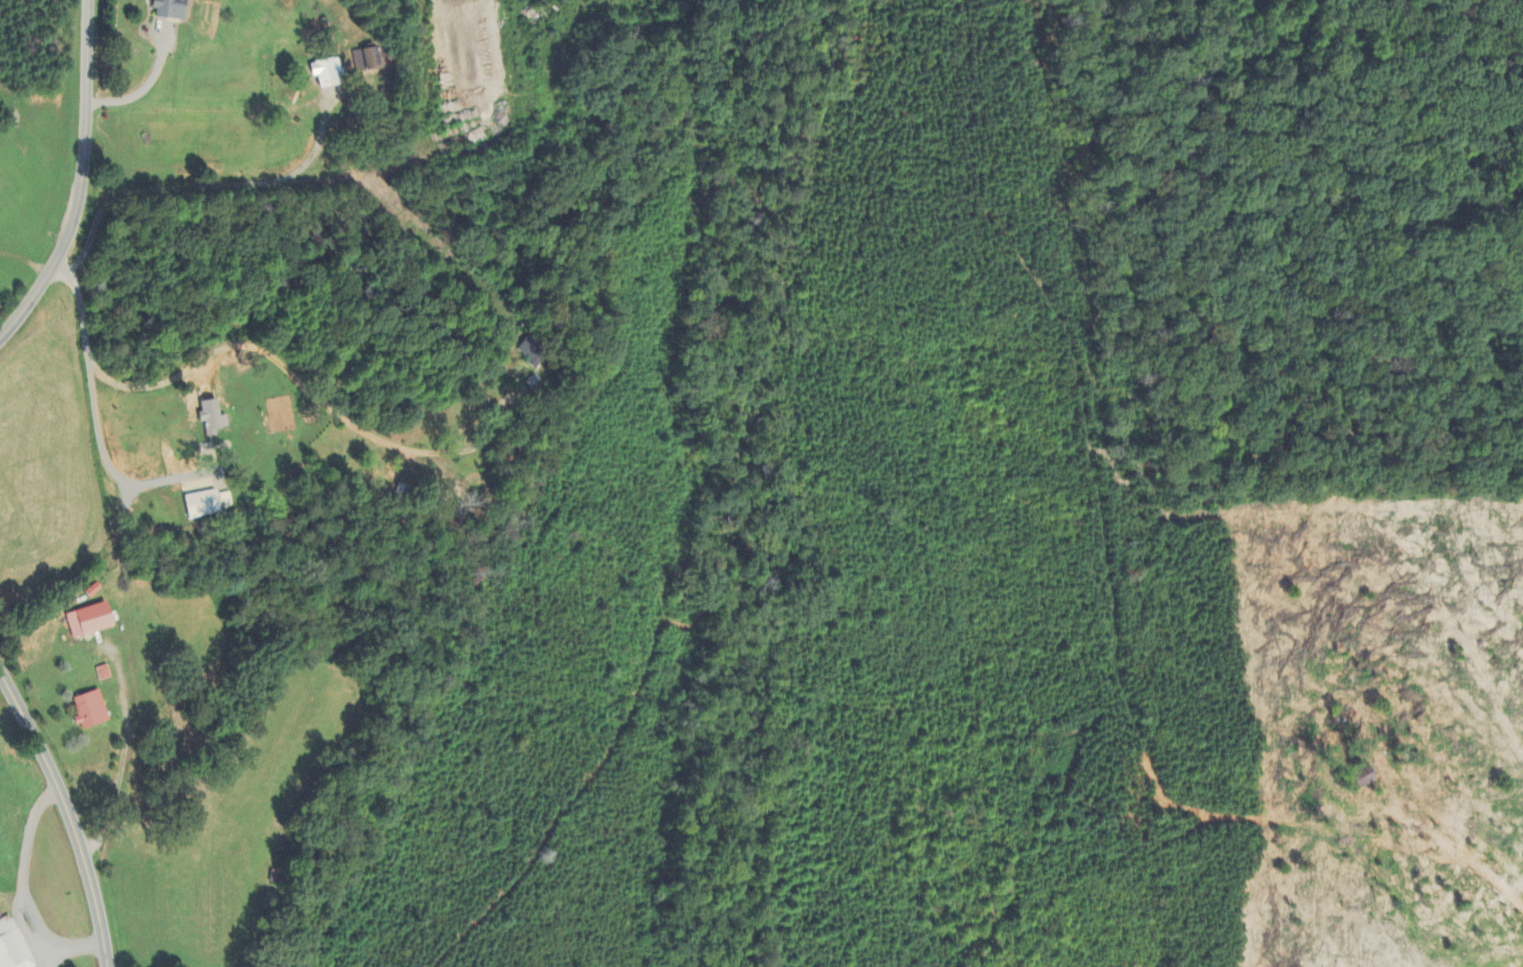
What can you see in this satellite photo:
building: (165, 10)
building: (363, 61)
building: (323, 75)
road: (145, 87)
road: (83, 180)
road: (204, 186)
road: (27, 257)
road: (288, 367)
road: (94, 409)
building: (210, 420)
building: (200, 506)
building: (87, 621)
building: (102, 674)
building: (87, 710)
road: (120, 772)
road: (67, 814)
road: (22, 868)
road: (70, 945)
building: (12, 947)

